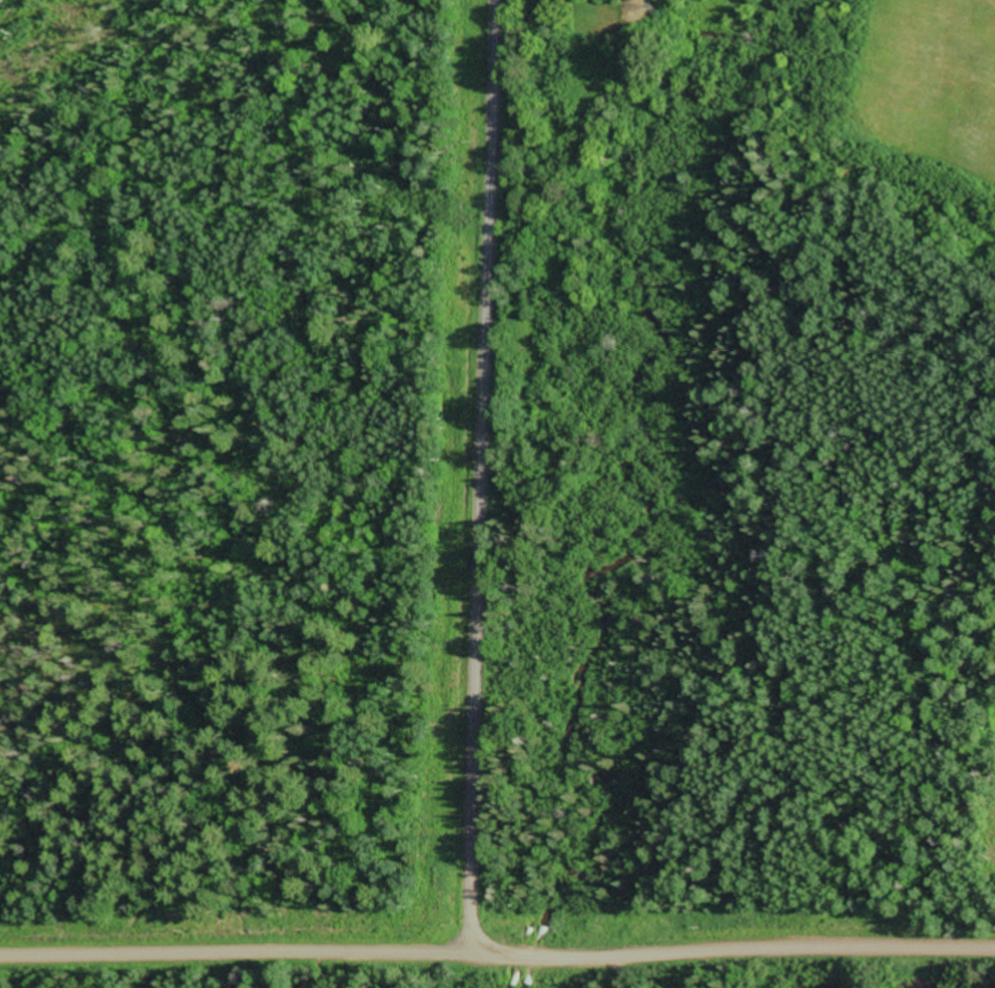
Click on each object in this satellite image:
road: (486, 463)
building: (545, 934)
road: (238, 955)
road: (722, 959)

